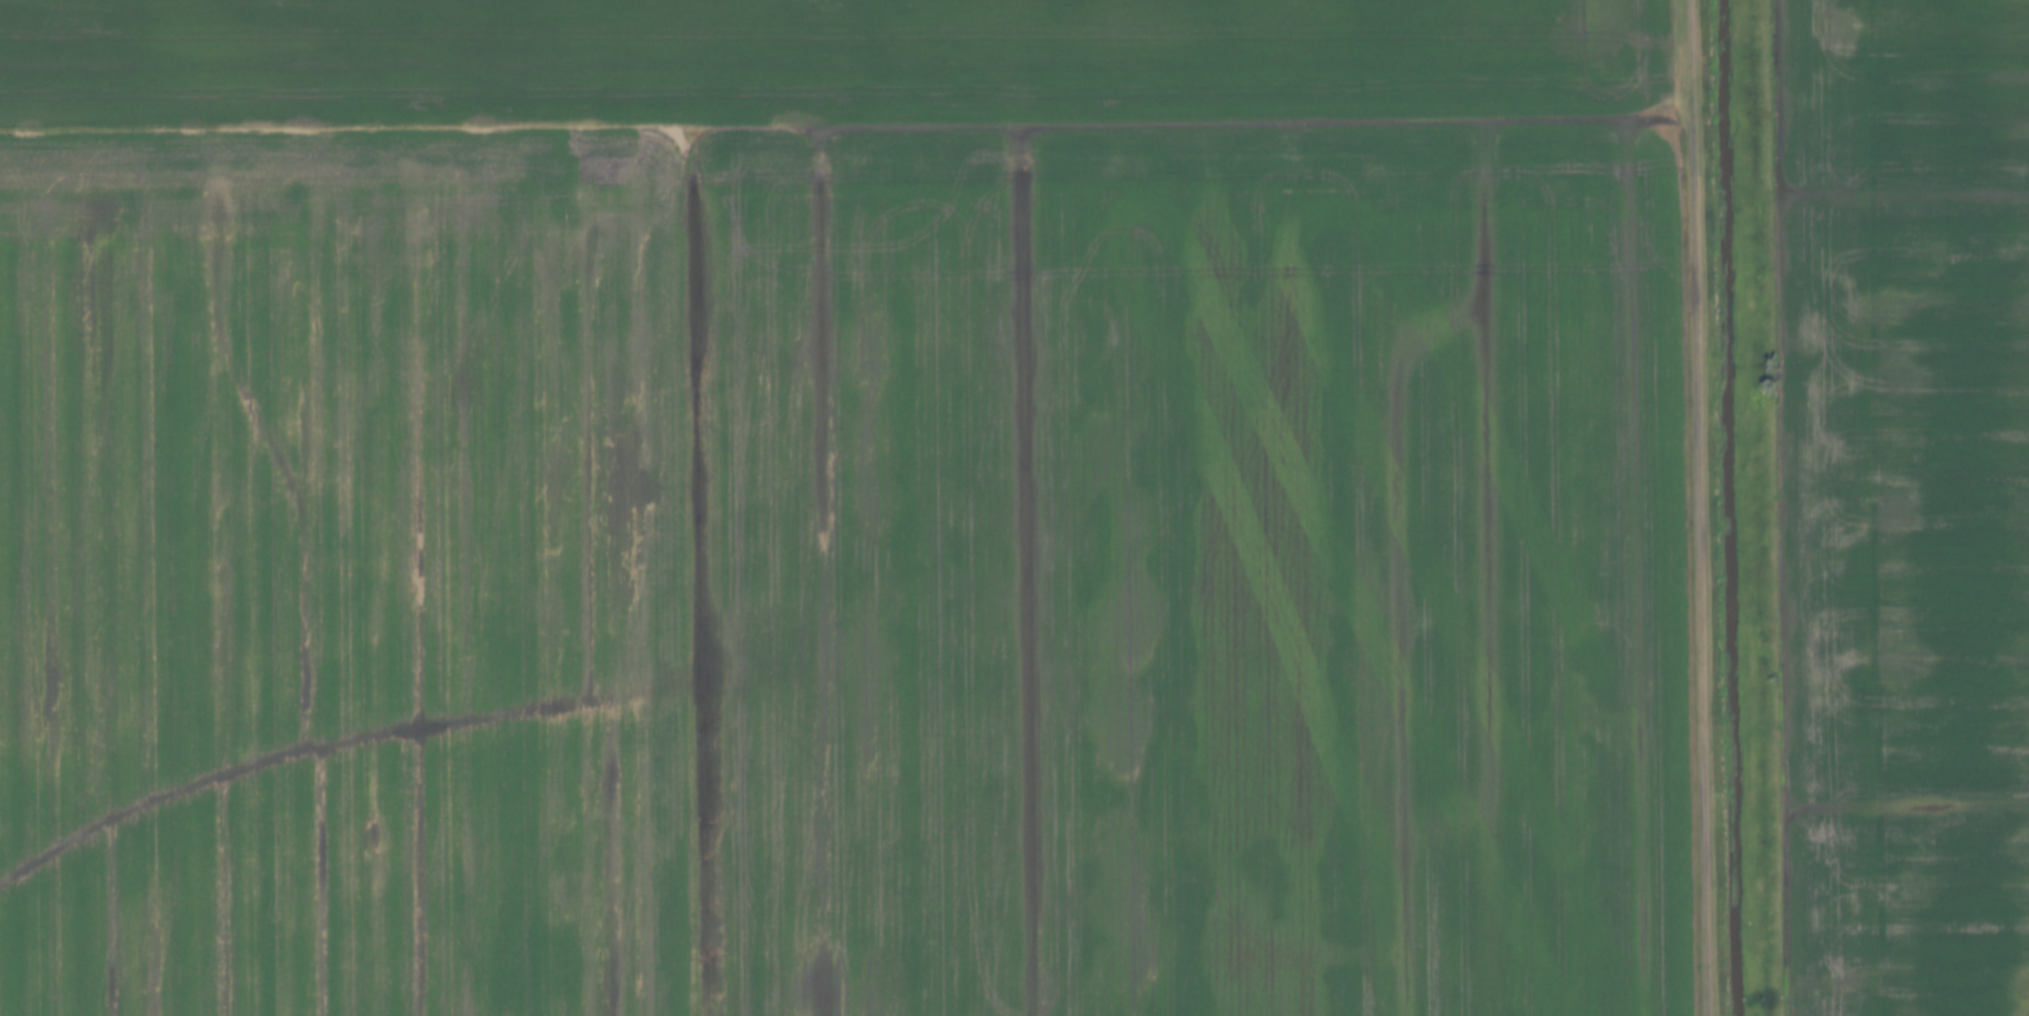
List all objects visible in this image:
road: (1700, 508)

